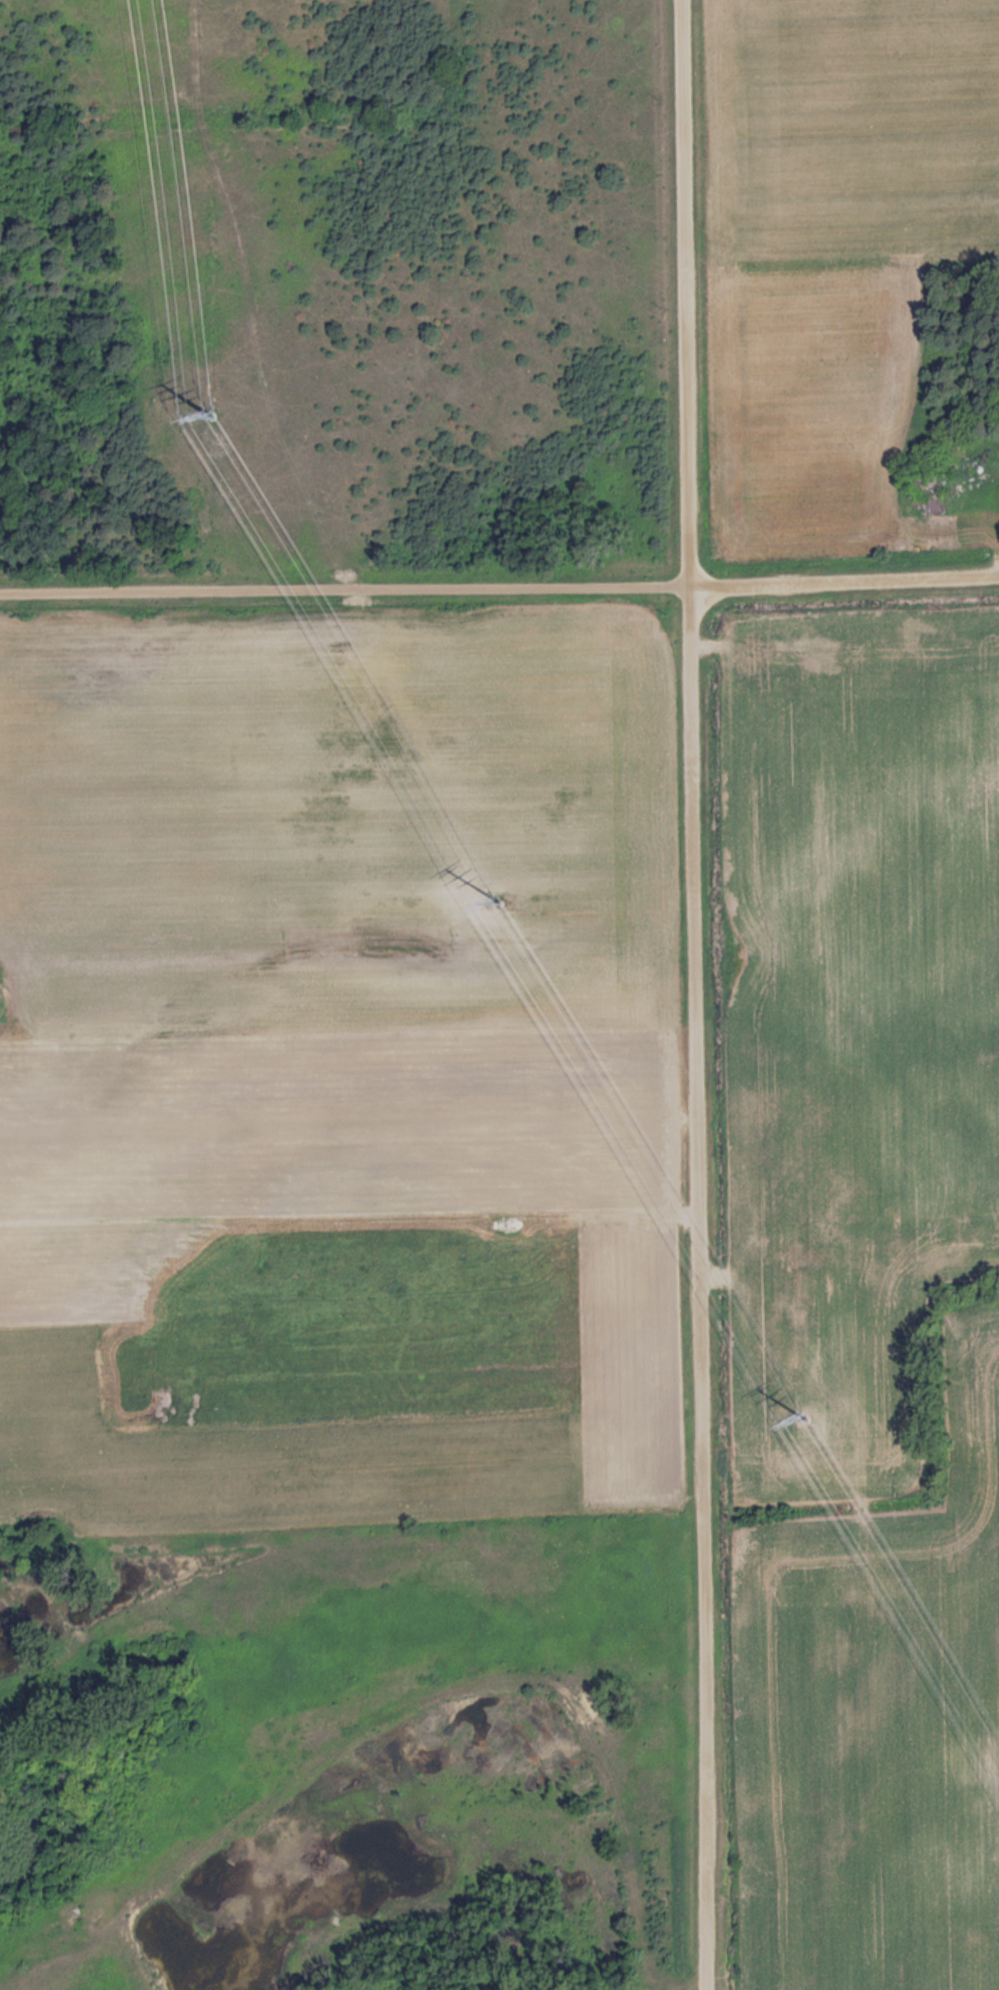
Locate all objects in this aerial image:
power tower: (208, 412)
building: (918, 479)
road: (499, 590)
power tower: (499, 894)
road: (693, 995)
power tower: (802, 1412)

